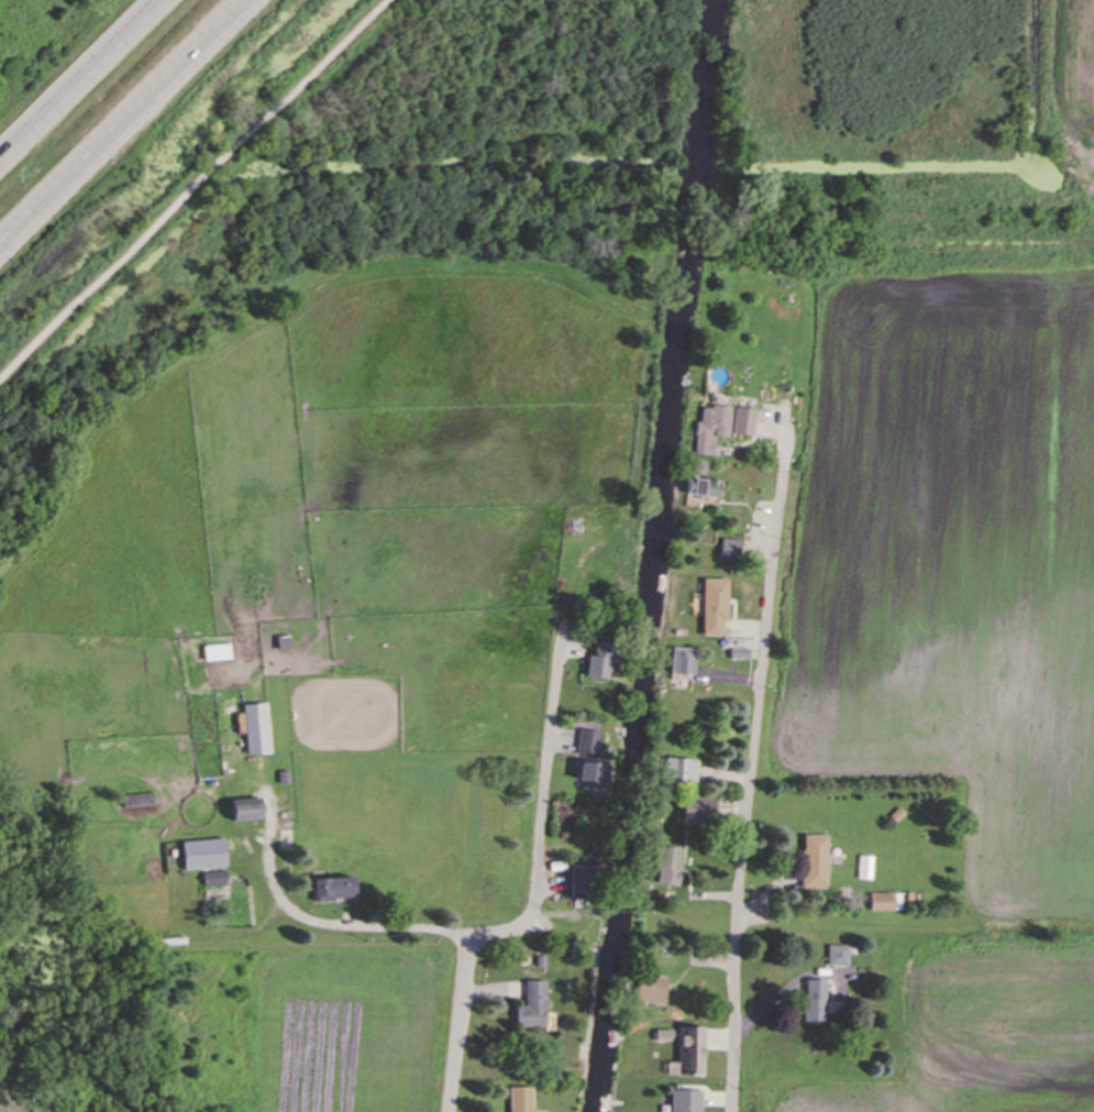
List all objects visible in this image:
road: (341, 44)
road: (82, 82)
road: (157, 88)
road: (34, 212)
road: (147, 233)
building: (722, 427)
building: (708, 489)
building: (731, 551)
building: (716, 608)
building: (218, 654)
building: (684, 662)
building: (605, 663)
road: (775, 681)
building: (257, 730)
building: (589, 739)
building: (682, 773)
building: (593, 775)
road: (538, 806)
building: (698, 811)
building: (250, 814)
building: (206, 856)
building: (816, 862)
building: (671, 870)
building: (336, 890)
road: (314, 924)
road: (715, 943)
building: (838, 957)
road: (518, 966)
building: (817, 1002)
building: (534, 1008)
road: (460, 1030)
building: (690, 1054)
building: (523, 1100)
building: (687, 1102)

